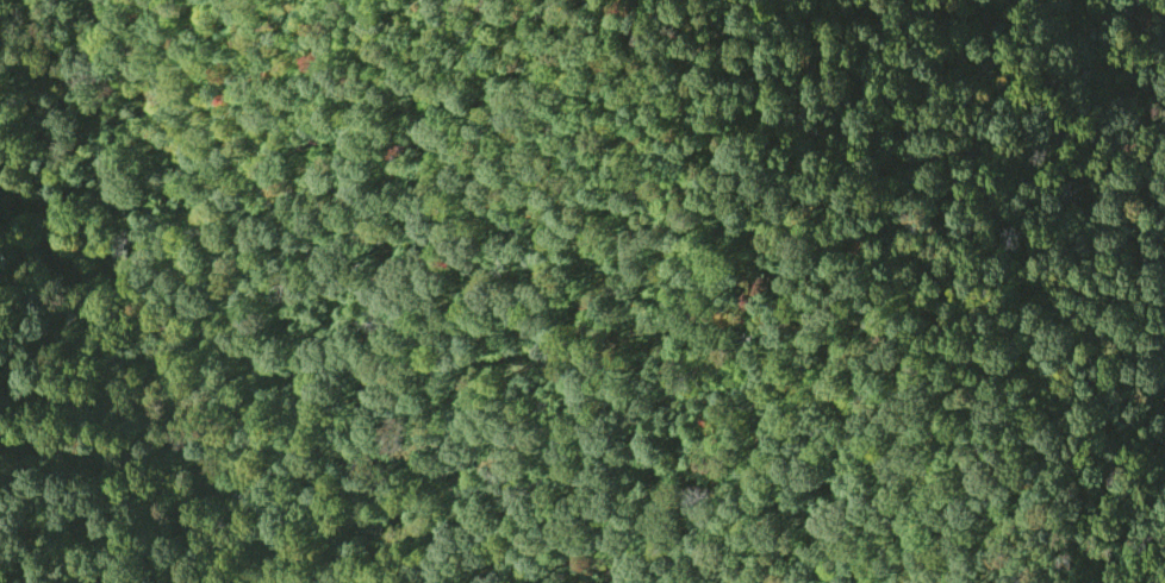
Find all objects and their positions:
road: (525, 108)

